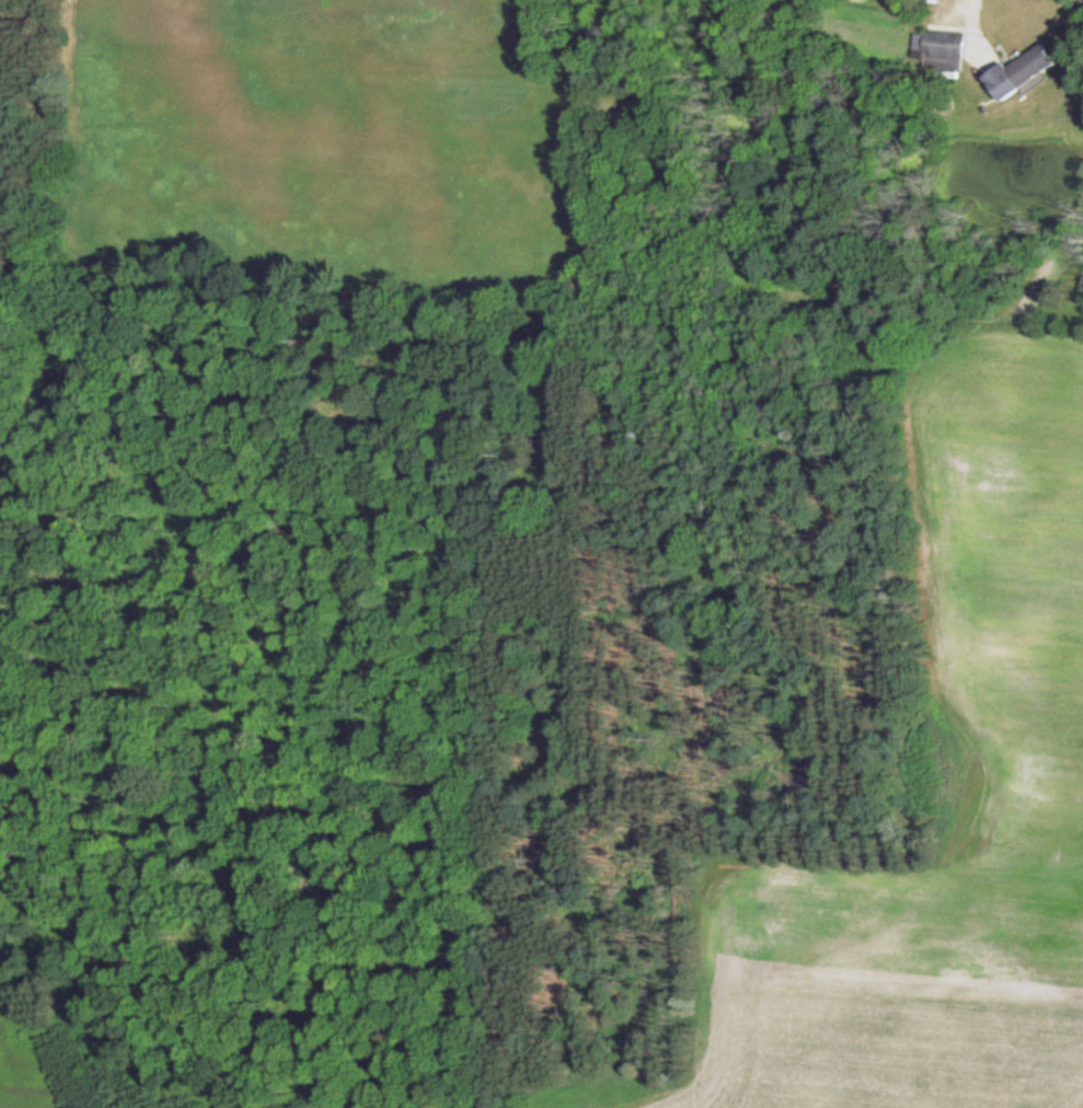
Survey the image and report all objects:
building: (940, 47)
building: (1021, 70)

